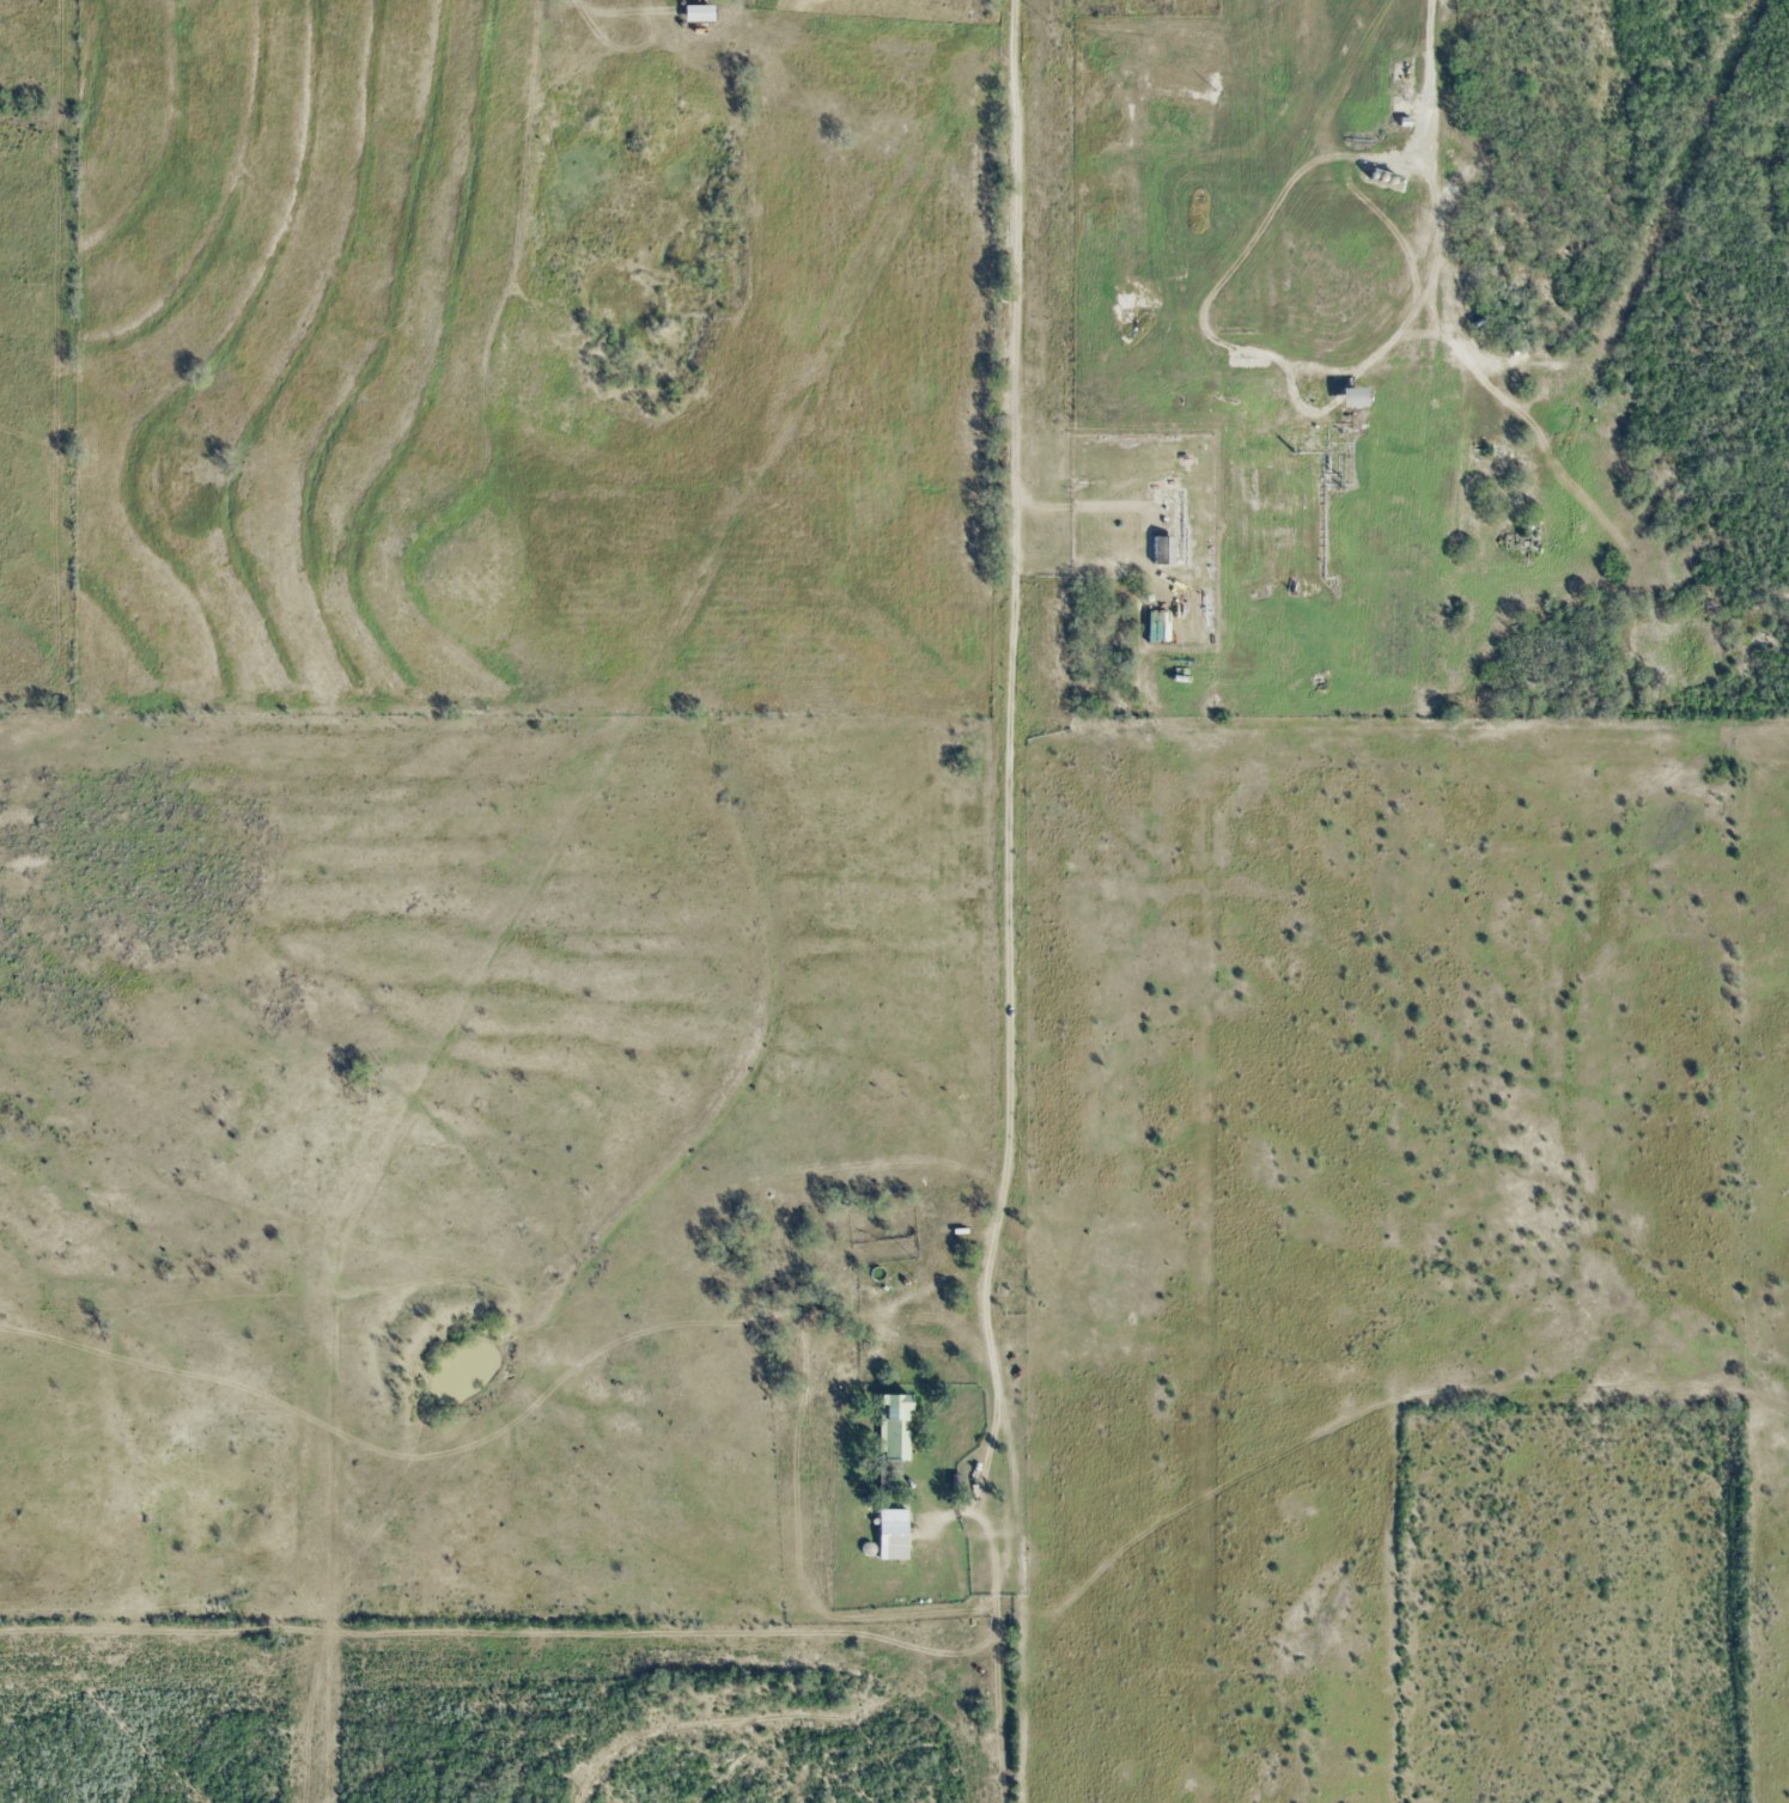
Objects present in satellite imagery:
building: (698, 11)
road: (1284, 355)
building: (1353, 394)
building: (1163, 547)
road: (1010, 709)
building: (896, 1427)
building: (895, 1534)

